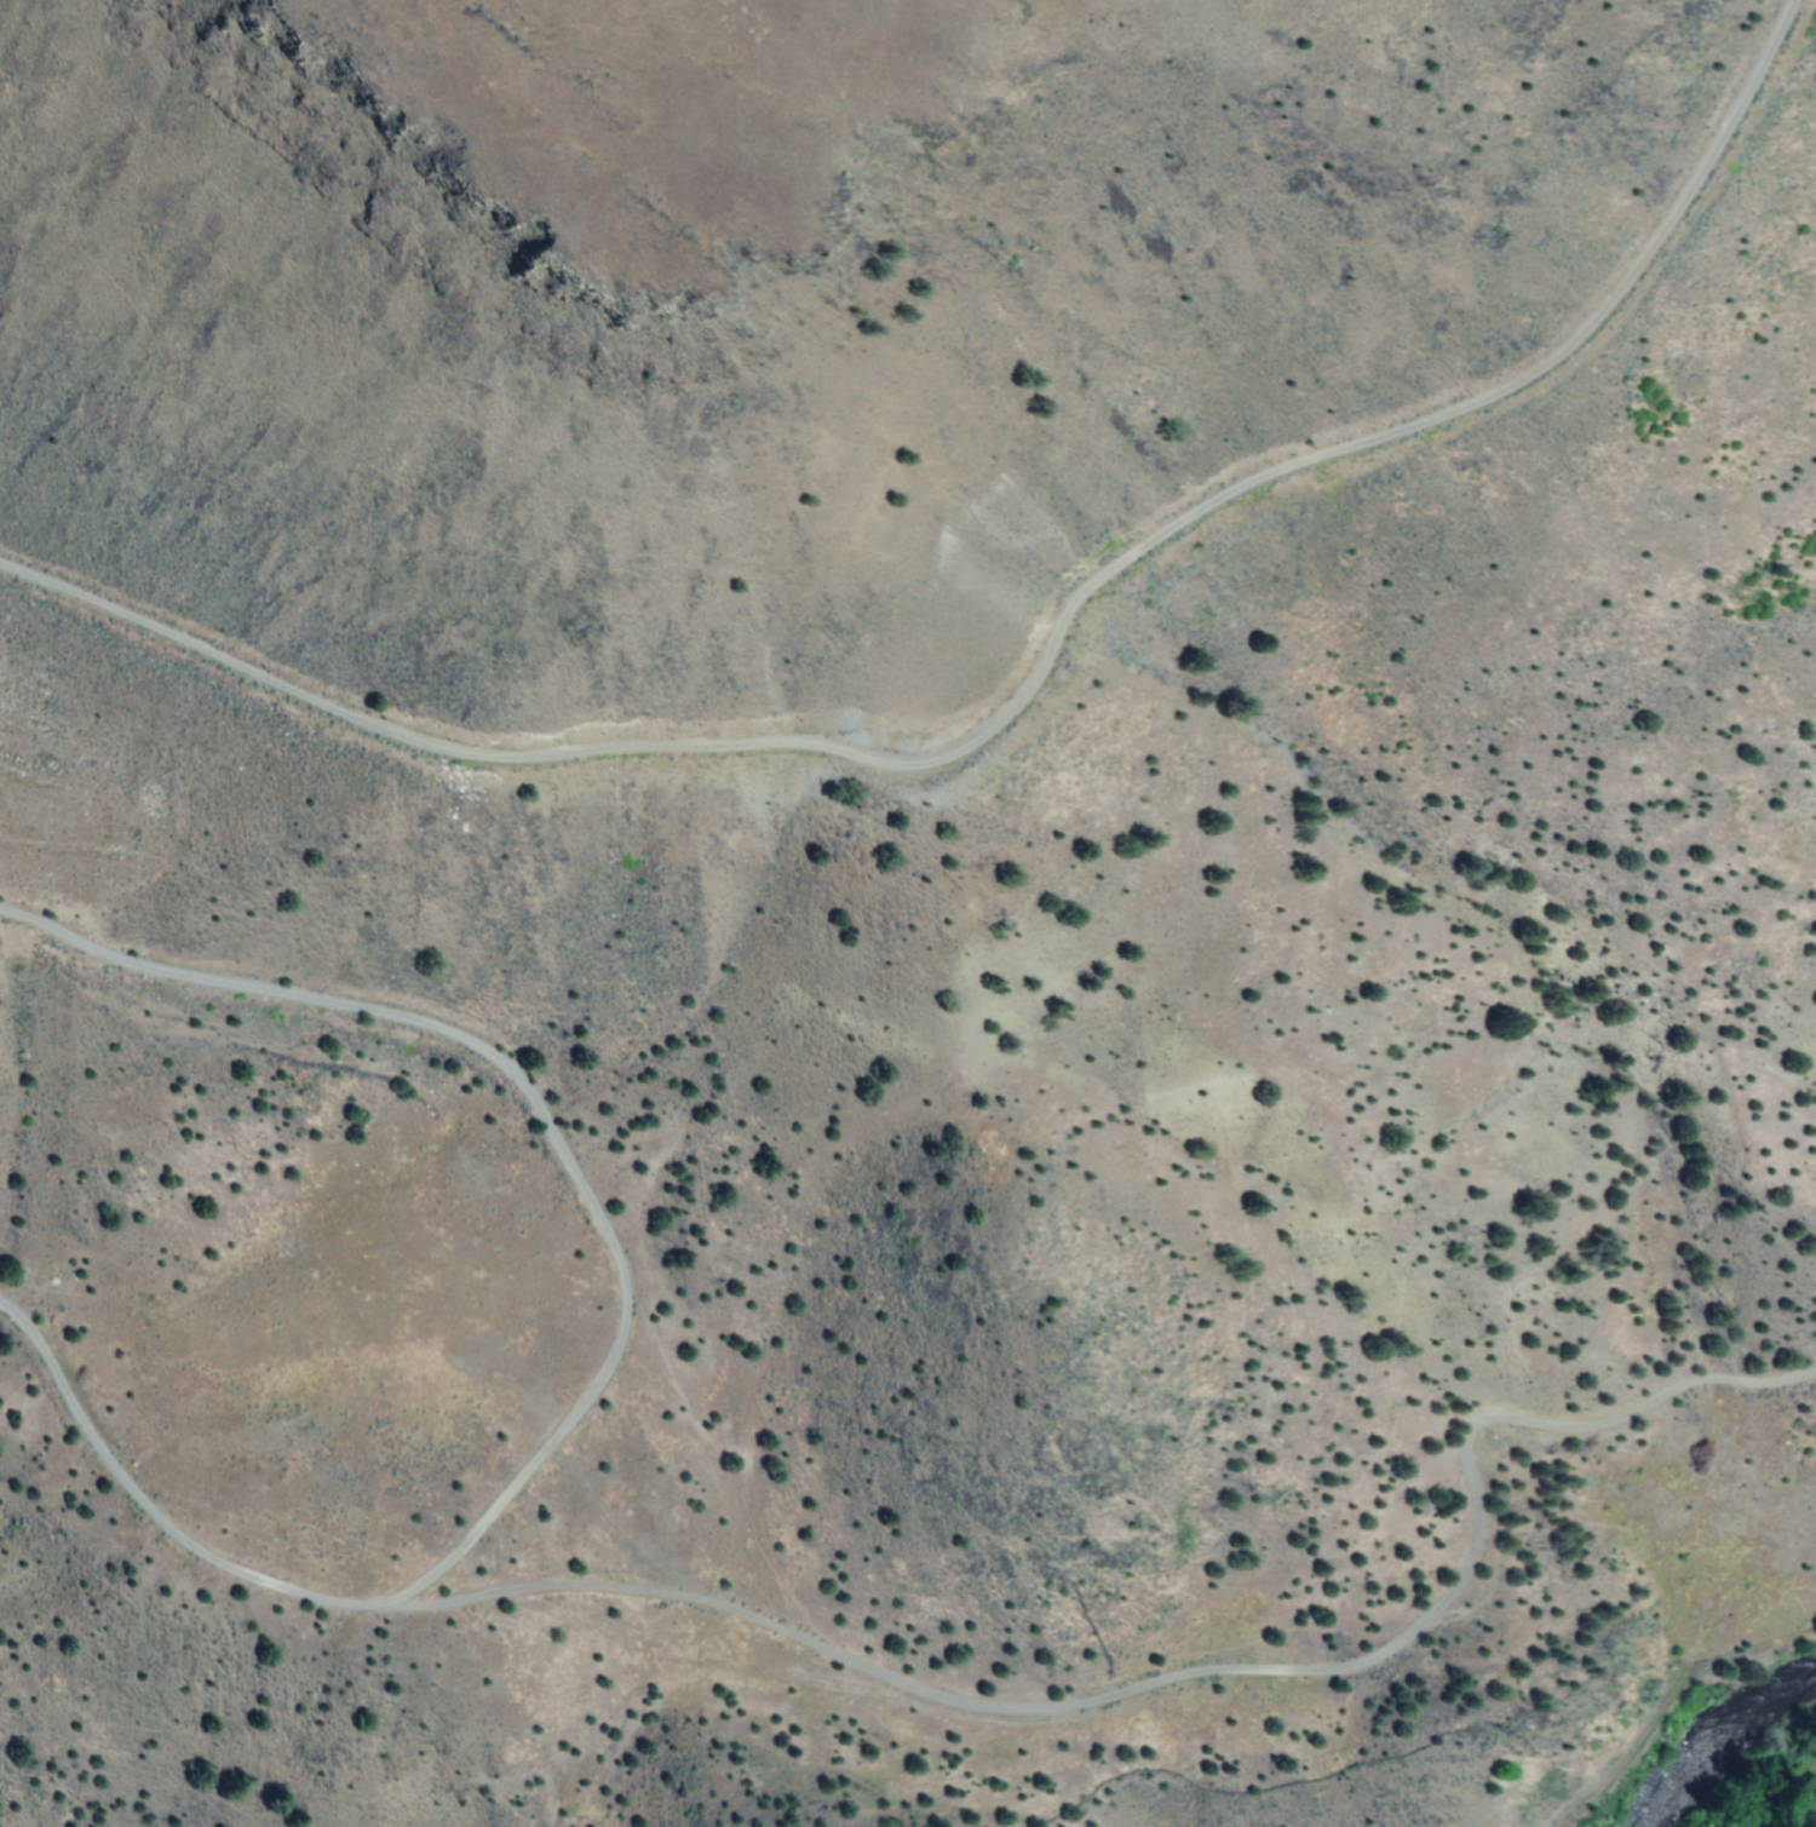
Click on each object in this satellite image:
river: (1726, 1743)

